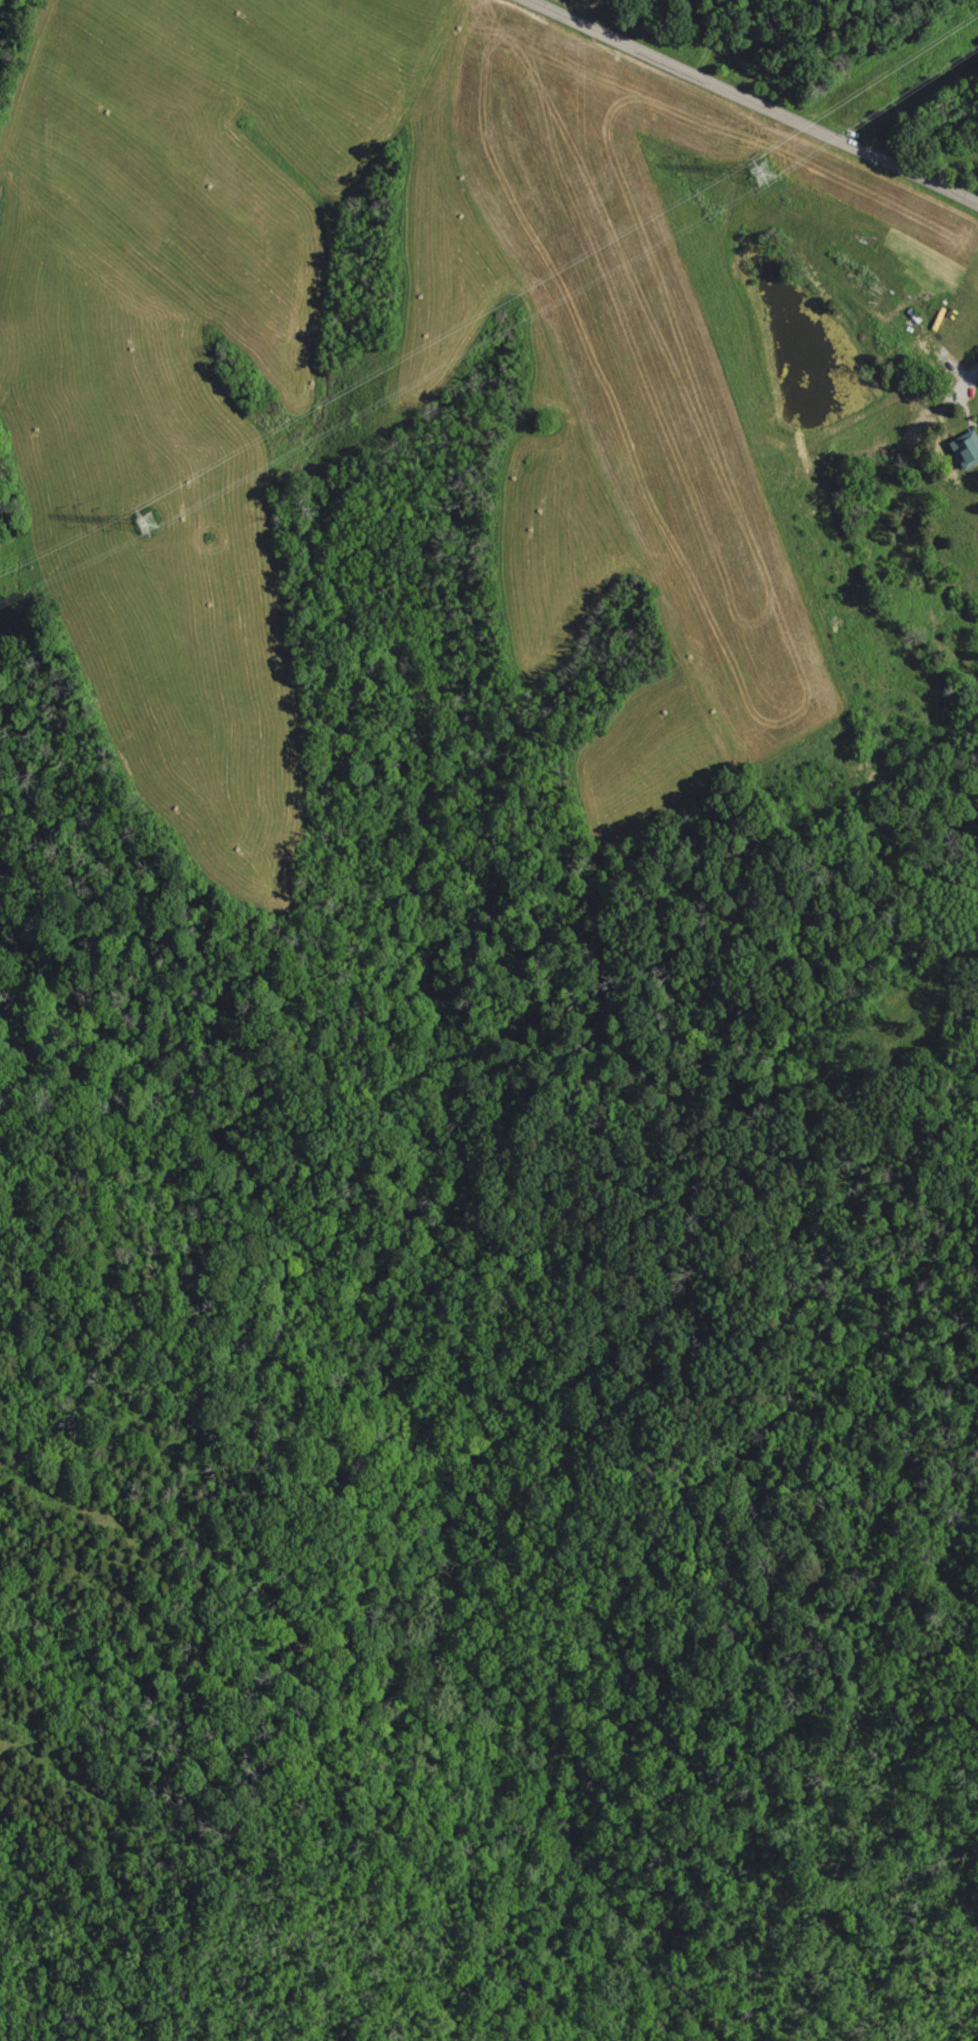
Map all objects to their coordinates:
road: (772, 104)
power tower: (757, 169)
road: (969, 385)
building: (969, 449)
power tower: (144, 520)

